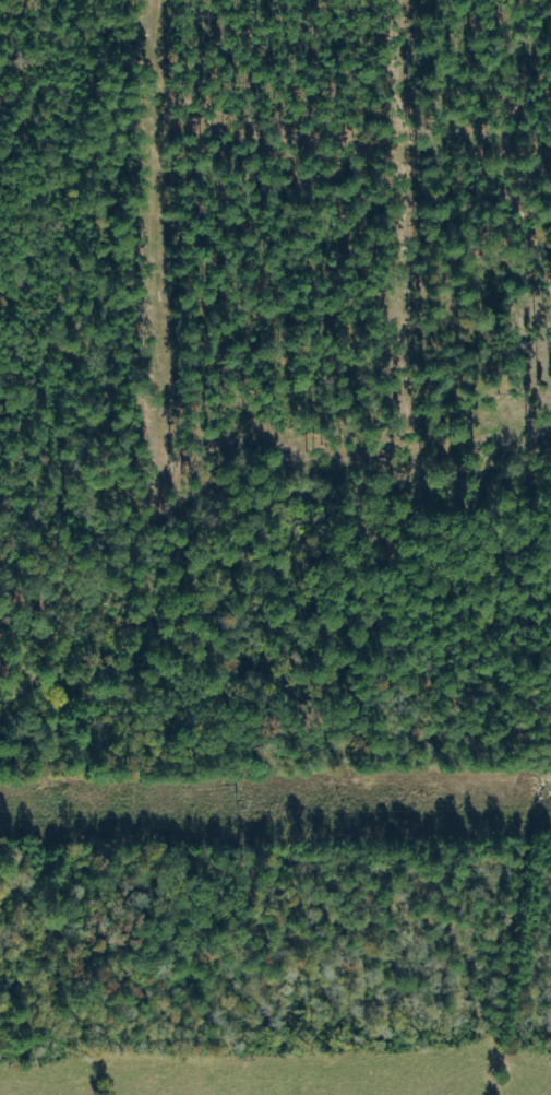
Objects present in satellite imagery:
power tower: (233, 805)

